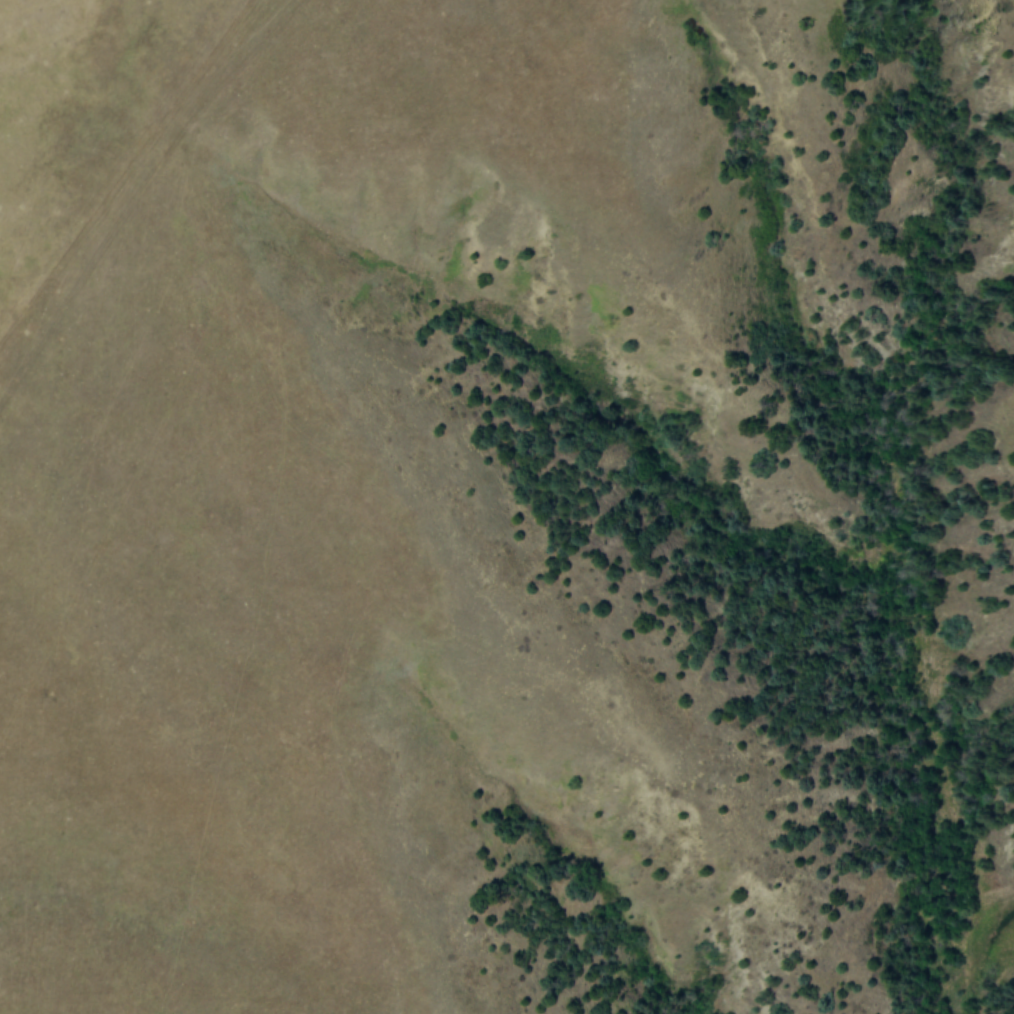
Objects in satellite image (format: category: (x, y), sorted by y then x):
road: (125, 209)

